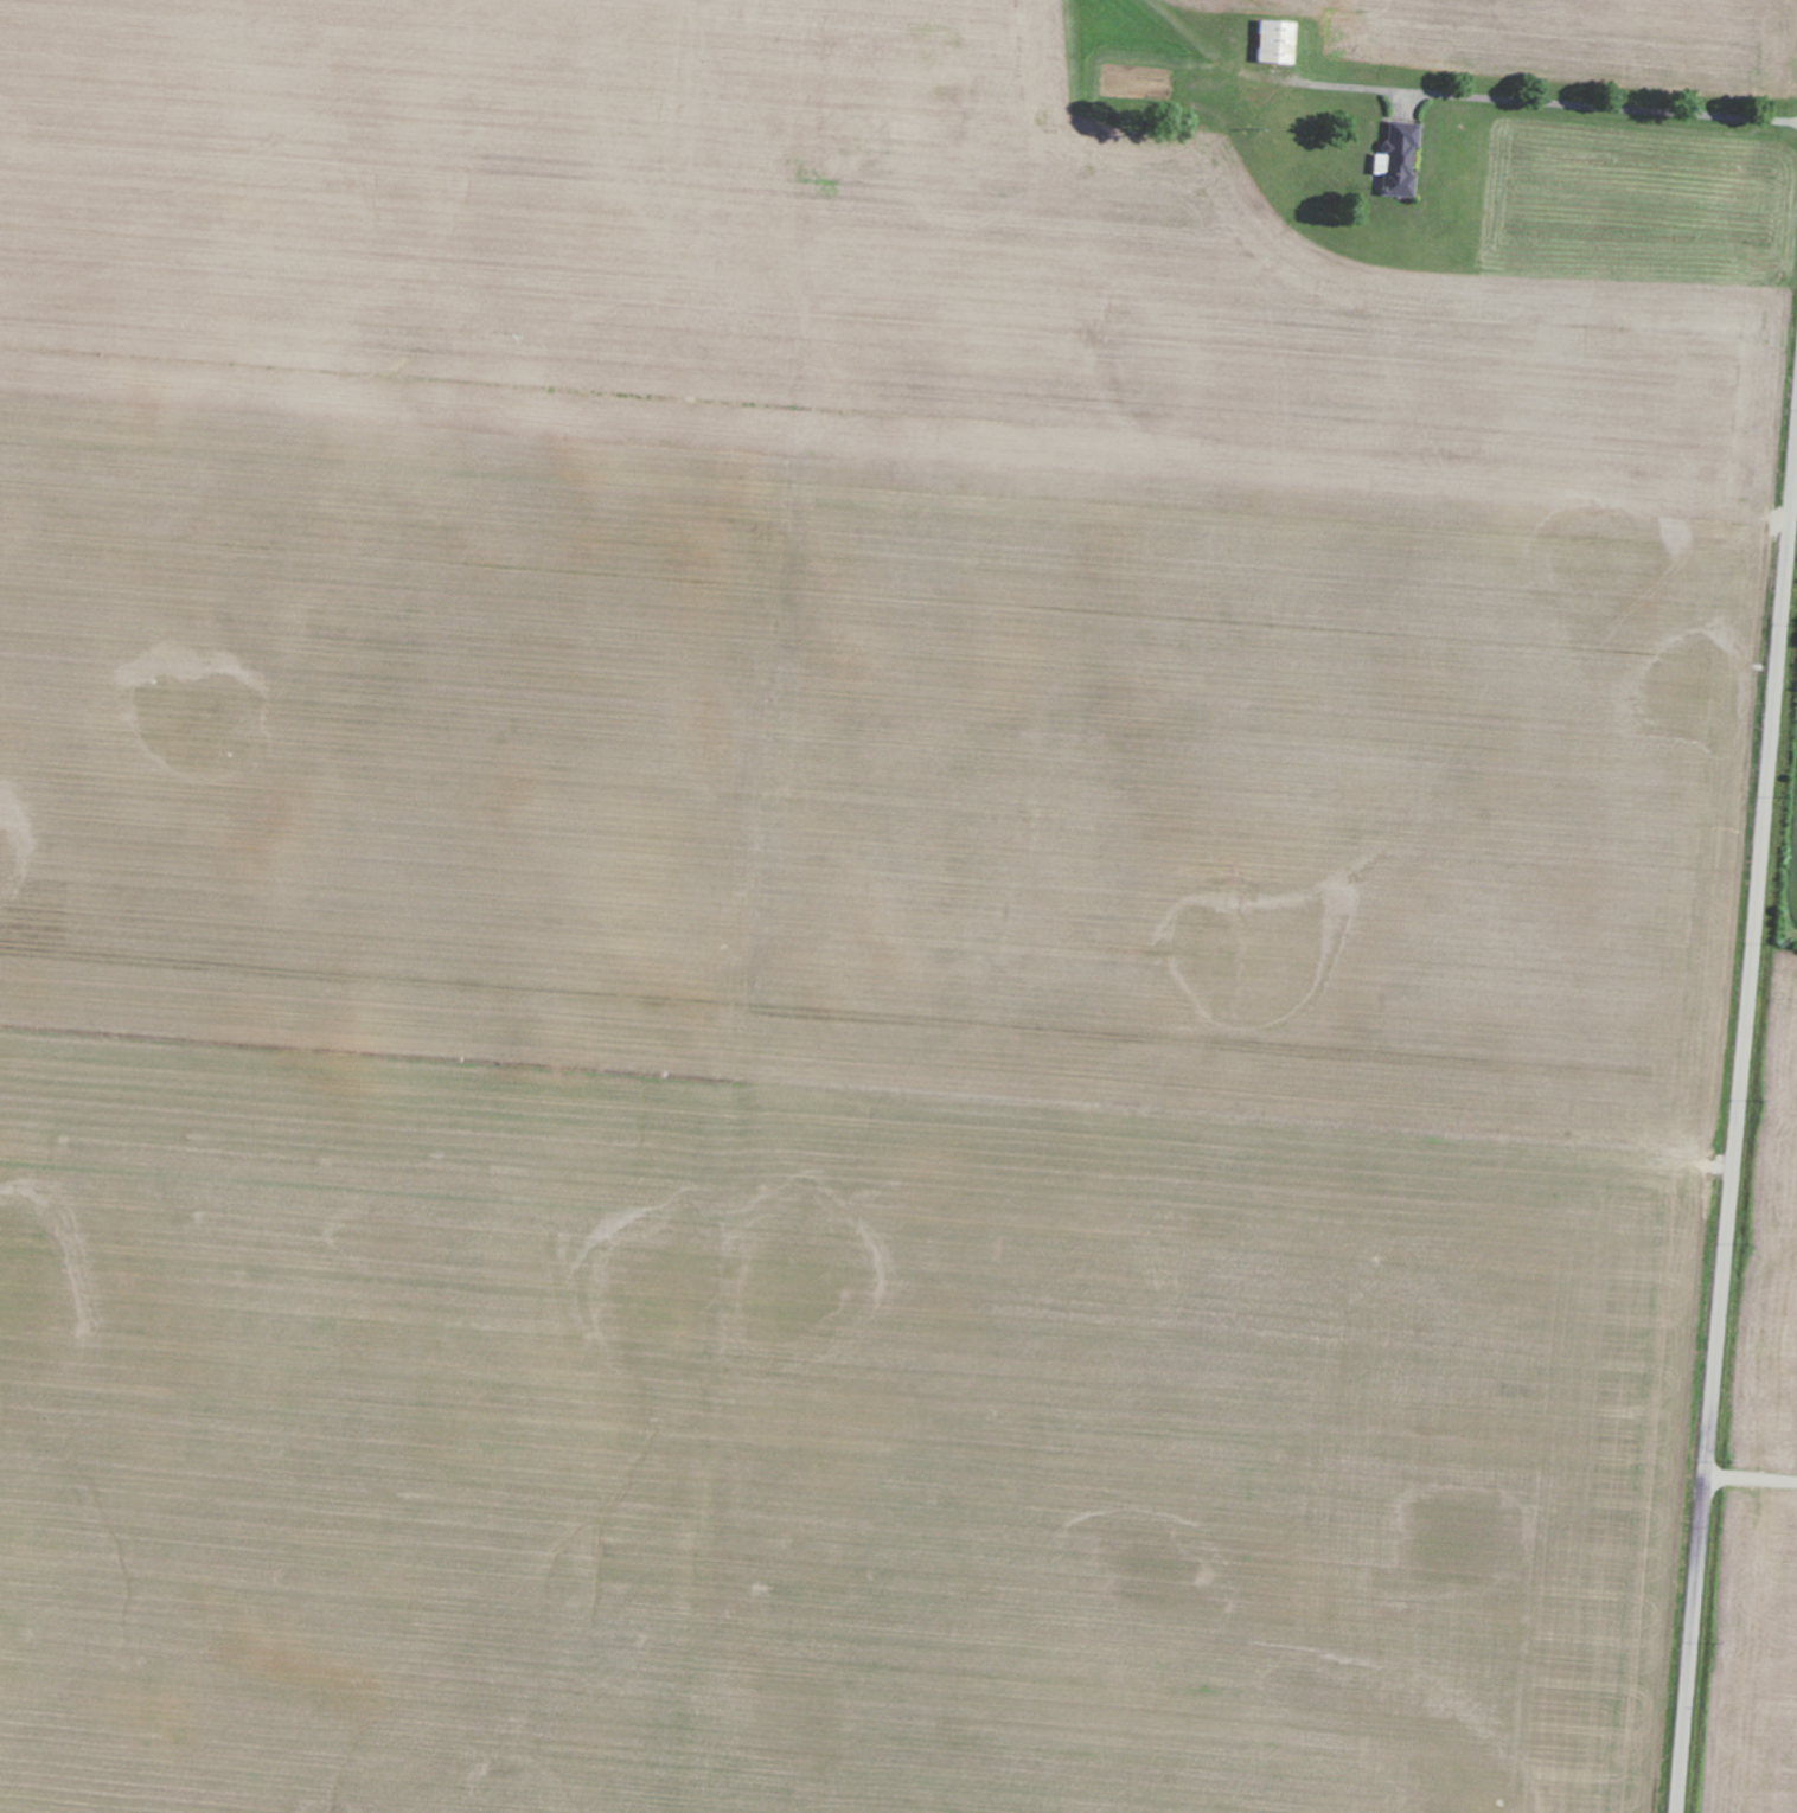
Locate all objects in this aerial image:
building: (1278, 41)
building: (1399, 159)
road: (1735, 1130)
road: (1752, 1459)

